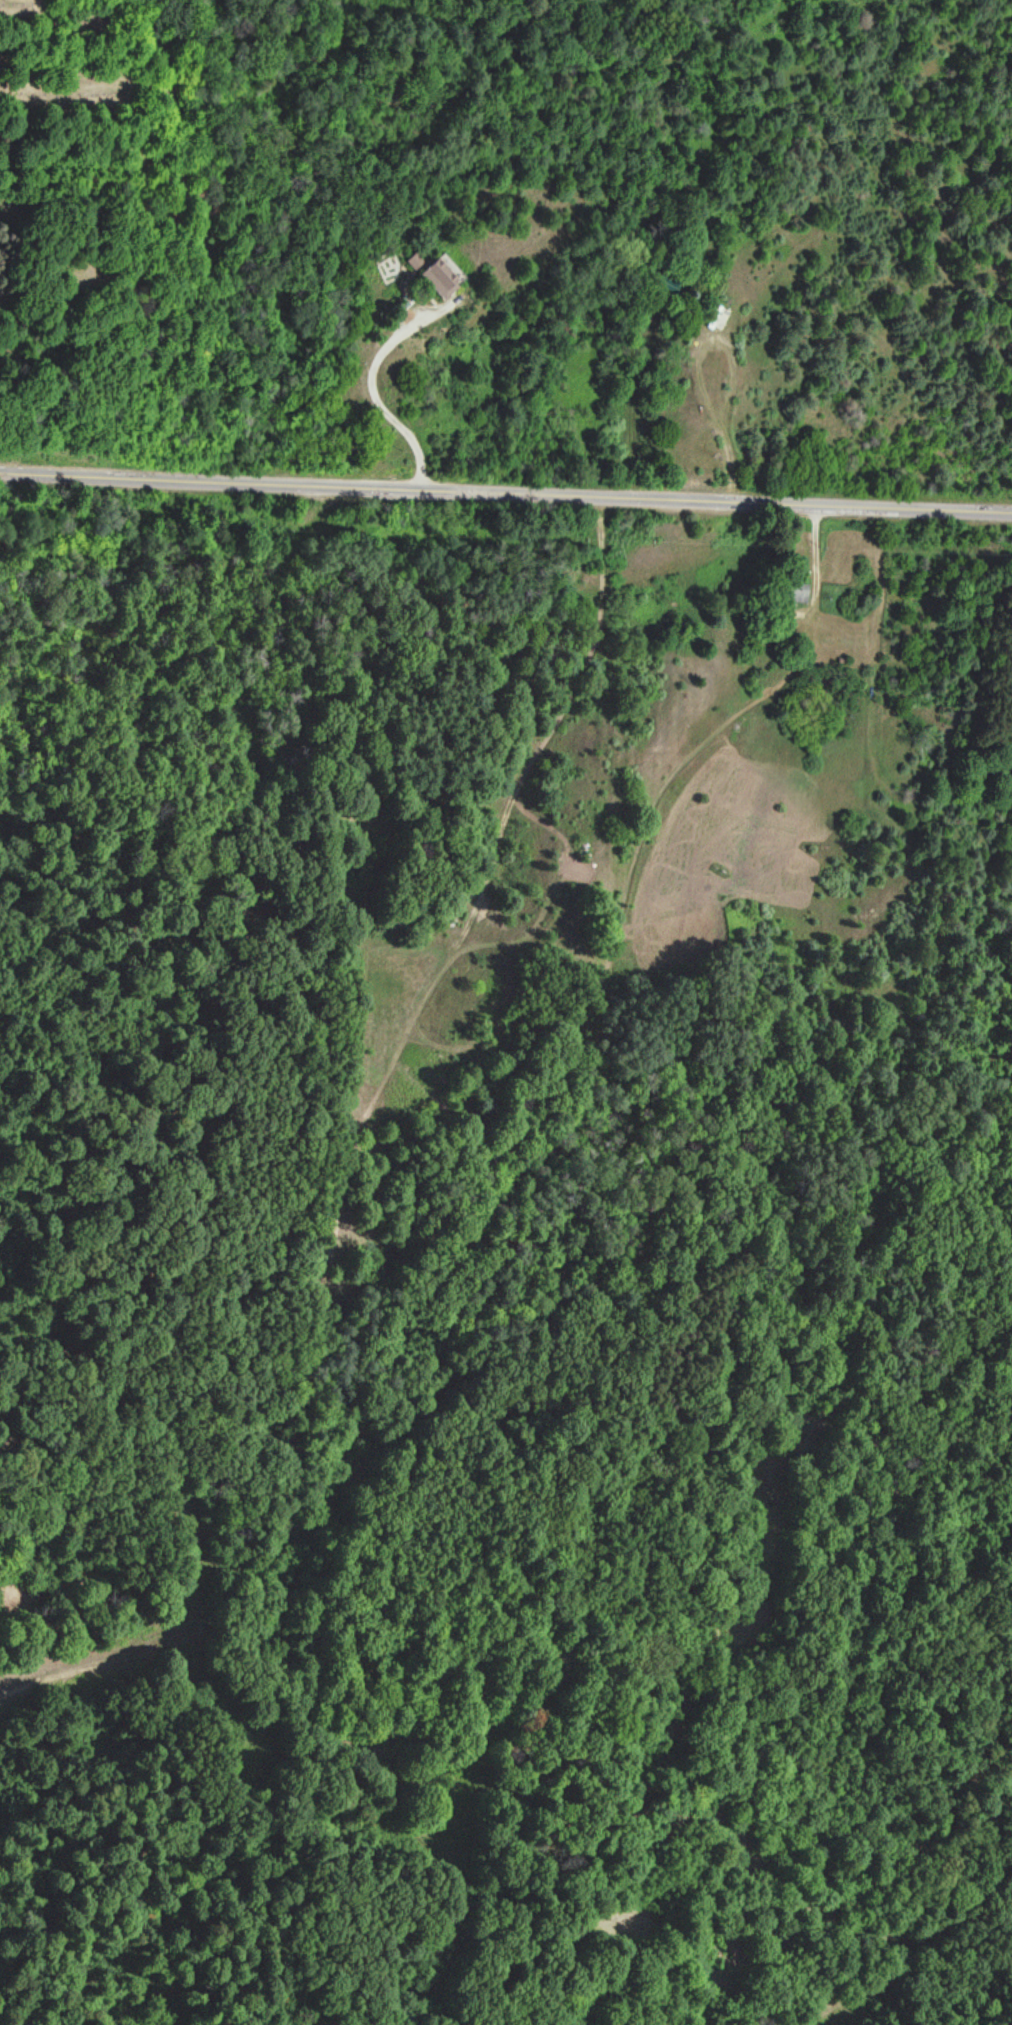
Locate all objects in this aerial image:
road: (173, 129)
building: (439, 278)
building: (665, 285)
building: (717, 319)
road: (20, 405)
road: (505, 494)
building: (795, 591)

